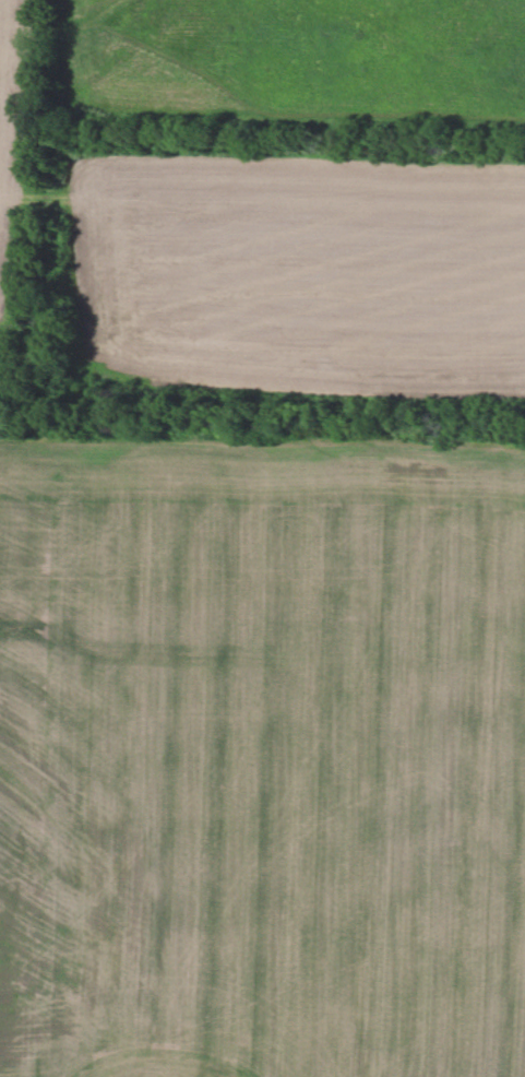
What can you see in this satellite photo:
crop: (297, 61)
crop: (12, 143)
crop: (299, 271)
crop: (262, 754)

